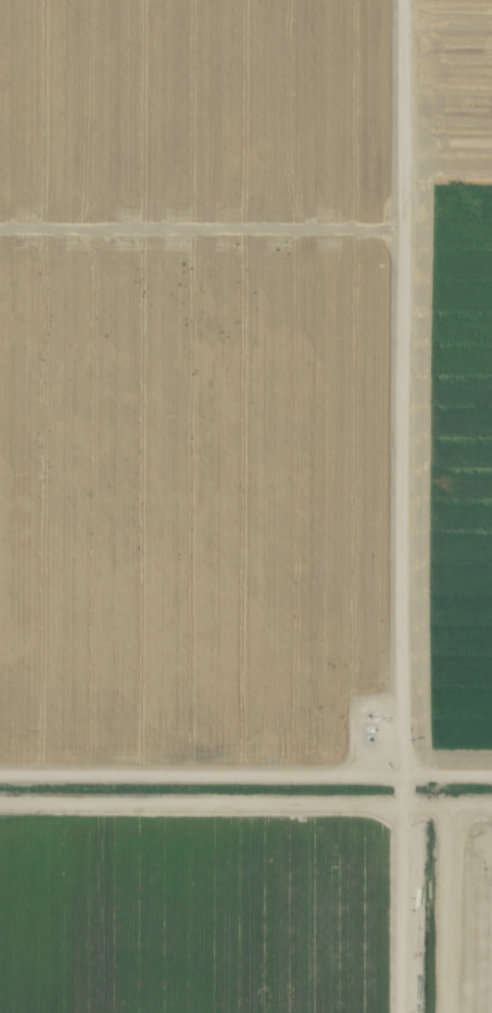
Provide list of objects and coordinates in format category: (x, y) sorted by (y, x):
road: (404, 114)
crop: (246, 506)
road: (407, 620)
road: (245, 777)

